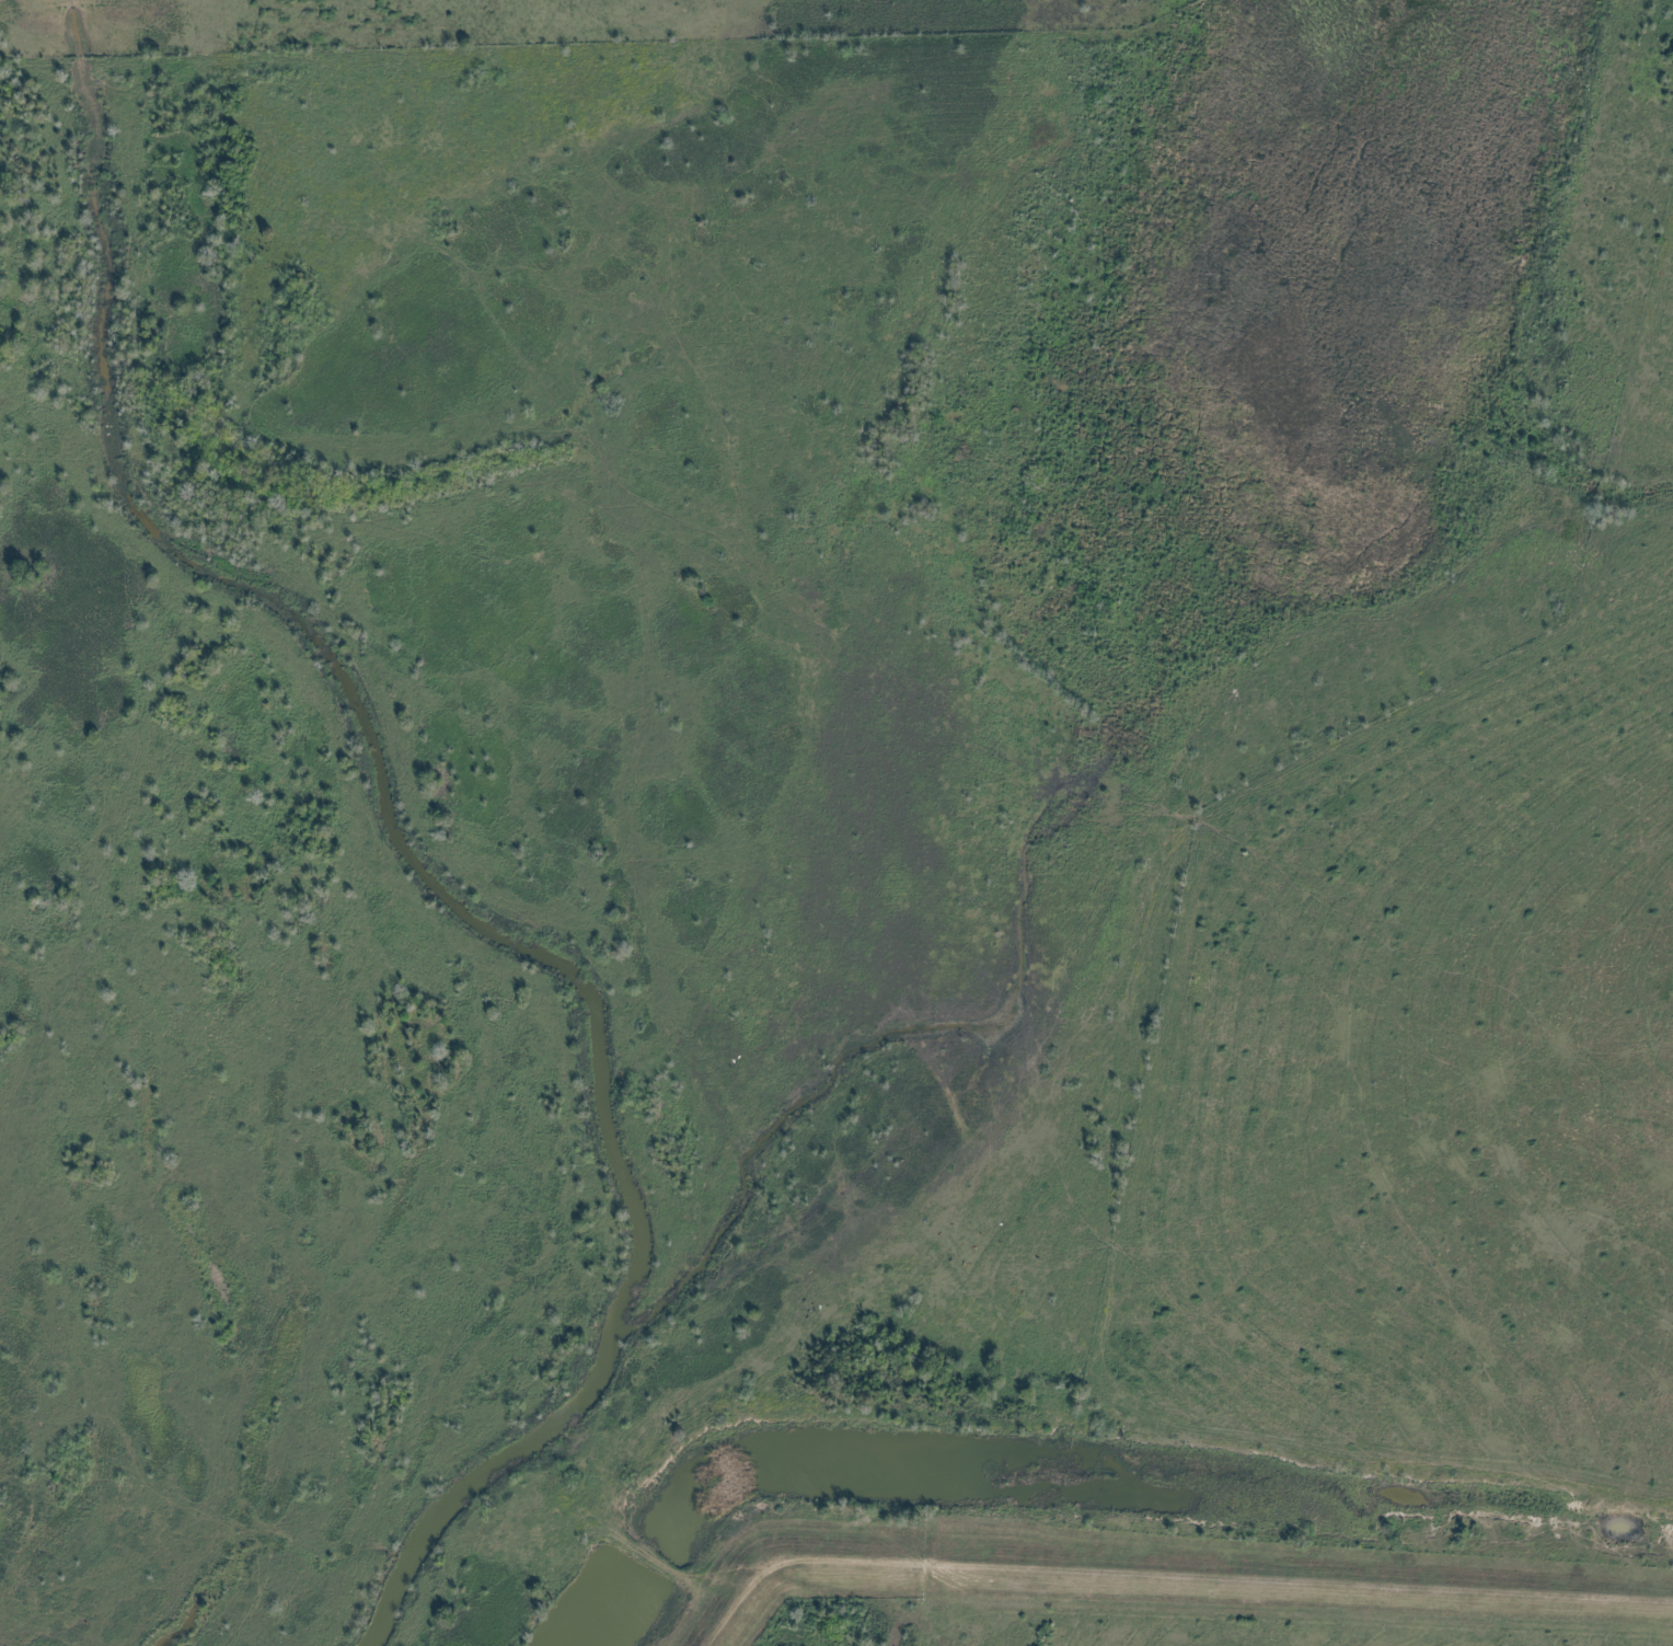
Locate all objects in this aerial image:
road: (1172, 1580)

